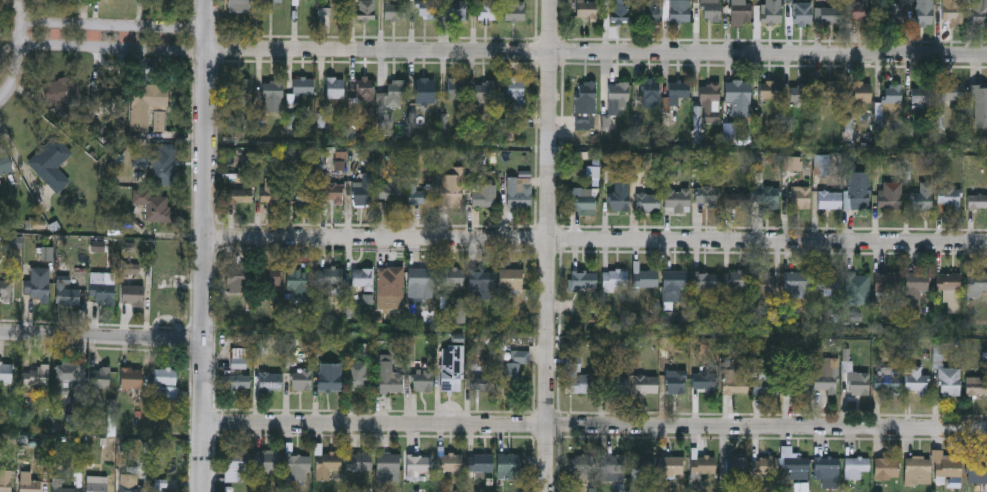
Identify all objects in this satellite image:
building: (312, 0)
building: (272, 1)
building: (240, 6)
building: (366, 10)
building: (427, 10)
building: (454, 10)
building: (514, 10)
building: (586, 10)
building: (710, 10)
building: (740, 10)
building: (619, 11)
building: (647, 11)
building: (678, 11)
building: (395, 12)
building: (487, 12)
building: (861, 12)
building: (892, 12)
building: (924, 12)
building: (979, 12)
building: (802, 13)
building: (771, 14)
building: (954, 14)
building: (828, 15)
road: (25, 23)
road: (505, 51)
road: (17, 78)
building: (335, 87)
building: (301, 88)
building: (364, 88)
building: (456, 88)
building: (769, 89)
building: (424, 90)
building: (679, 90)
building: (951, 90)
building: (981, 90)
building: (61, 91)
building: (485, 91)
building: (830, 91)
building: (861, 91)
building: (516, 92)
building: (650, 92)
building: (242, 93)
building: (395, 93)
building: (800, 93)
building: (893, 93)
building: (921, 93)
building: (105, 94)
building: (272, 95)
building: (738, 96)
building: (586, 98)
building: (618, 98)
building: (708, 100)
building: (147, 103)
building: (729, 130)
building: (4, 161)
building: (51, 164)
building: (821, 164)
building: (158, 166)
building: (0, 185)
building: (858, 190)
building: (273, 191)
building: (363, 191)
building: (452, 191)
building: (304, 192)
building: (391, 192)
building: (519, 192)
building: (331, 193)
building: (706, 194)
building: (890, 195)
building: (420, 196)
building: (484, 196)
building: (621, 196)
building: (737, 197)
building: (767, 197)
building: (799, 197)
building: (923, 197)
building: (948, 197)
building: (677, 199)
building: (829, 200)
building: (977, 201)
building: (583, 202)
building: (647, 202)
building: (154, 205)
road: (597, 241)
road: (207, 245)
road: (549, 245)
building: (269, 276)
building: (330, 276)
building: (451, 276)
building: (420, 277)
building: (362, 278)
building: (645, 278)
building: (298, 279)
building: (511, 279)
building: (614, 279)
building: (675, 279)
building: (735, 279)
building: (583, 280)
building: (705, 280)
building: (948, 281)
building: (887, 282)
building: (764, 283)
building: (796, 283)
building: (238, 284)
building: (482, 284)
building: (976, 284)
building: (390, 287)
building: (826, 287)
building: (102, 288)
building: (857, 288)
building: (915, 288)
building: (6, 290)
building: (36, 291)
building: (167, 292)
building: (133, 295)
building: (67, 296)
road: (103, 339)
building: (239, 357)
building: (452, 367)
building: (516, 368)
building: (67, 371)
building: (5, 372)
building: (36, 374)
building: (359, 375)
building: (422, 375)
building: (575, 375)
building: (825, 375)
building: (330, 376)
building: (391, 376)
building: (99, 377)
building: (165, 377)
building: (131, 378)
building: (302, 379)
building: (916, 379)
building: (704, 380)
building: (735, 380)
building: (270, 381)
building: (676, 381)
building: (781, 381)
building: (949, 381)
building: (237, 382)
building: (483, 382)
building: (858, 382)
building: (617, 383)
building: (645, 383)
building: (887, 383)
building: (976, 385)
road: (596, 426)
building: (267, 460)
building: (449, 461)
building: (479, 462)
building: (793, 462)
building: (326, 463)
building: (358, 463)
building: (419, 463)
building: (580, 463)
building: (235, 464)
building: (703, 464)
building: (766, 464)
building: (509, 465)
building: (387, 466)
building: (640, 466)
building: (671, 466)
building: (827, 466)
building: (855, 466)
building: (945, 466)
building: (297, 467)
building: (612, 467)
building: (736, 467)
building: (885, 467)
building: (917, 469)
building: (977, 470)
building: (5, 480)
building: (29, 485)
building: (95, 485)
building: (132, 485)
building: (59, 486)
building: (161, 486)

